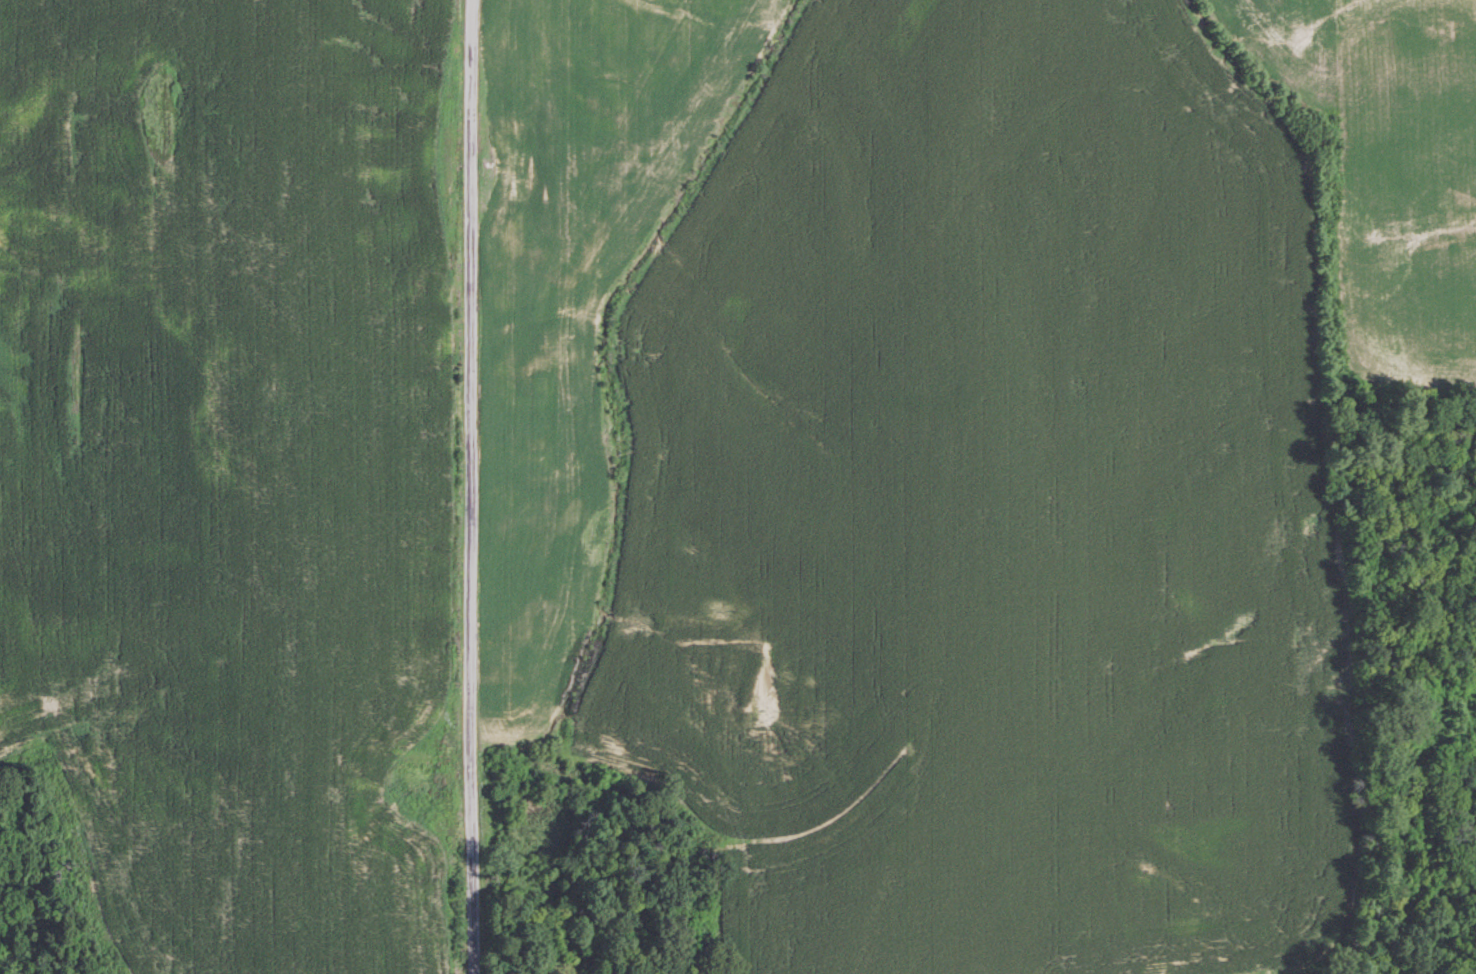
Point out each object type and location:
crop: (936, 465)
crop: (242, 468)
road: (469, 487)

